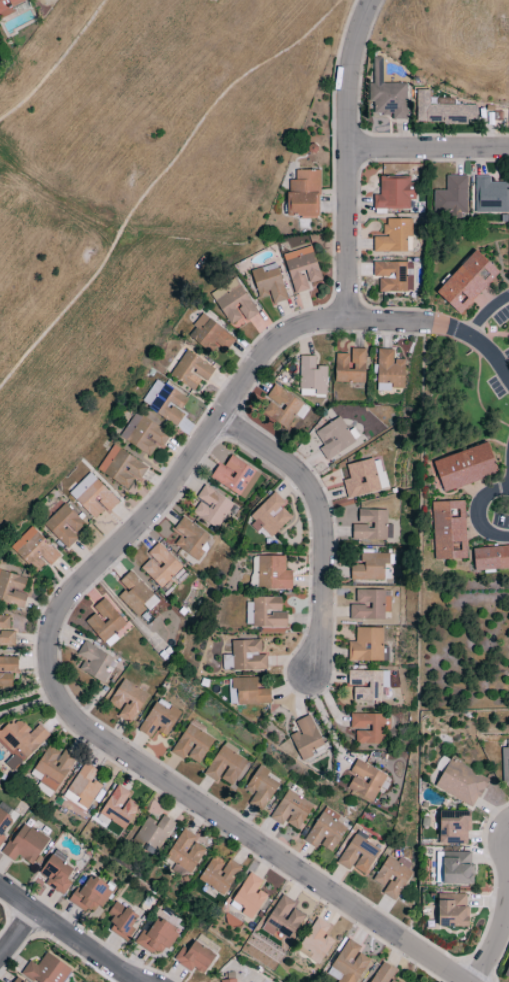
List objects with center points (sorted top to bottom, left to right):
building: (8, 7)
road: (440, 52)
building: (386, 93)
building: (442, 109)
road: (427, 147)
road: (345, 160)
road: (116, 172)
building: (393, 194)
building: (303, 195)
building: (490, 196)
building: (451, 198)
building: (393, 236)
building: (301, 269)
building: (393, 276)
building: (466, 282)
building: (268, 283)
building: (233, 304)
road: (488, 315)
building: (210, 335)
road: (494, 355)
building: (350, 366)
building: (191, 370)
building: (389, 371)
building: (311, 377)
building: (164, 402)
building: (280, 407)
building: (143, 435)
building: (334, 437)
building: (121, 467)
building: (464, 467)
building: (234, 477)
building: (364, 478)
building: (92, 496)
building: (211, 507)
road: (476, 513)
building: (269, 516)
road: (320, 525)
building: (64, 526)
building: (448, 530)
building: (190, 538)
building: (34, 550)
building: (490, 558)
building: (160, 566)
building: (371, 568)
building: (272, 573)
building: (4, 589)
building: (135, 595)
building: (367, 606)
building: (265, 613)
building: (105, 623)
road: (55, 627)
building: (6, 633)
building: (366, 645)
building: (247, 656)
building: (94, 662)
building: (7, 670)
building: (367, 684)
building: (247, 692)
road: (28, 694)
building: (127, 701)
road: (29, 705)
road: (322, 714)
building: (159, 720)
building: (367, 728)
building: (305, 738)
building: (20, 741)
building: (192, 743)
building: (226, 766)
building: (52, 767)
building: (505, 767)
building: (365, 781)
building: (461, 783)
building: (82, 788)
building: (260, 788)
building: (119, 808)
building: (291, 810)
building: (4, 823)
building: (453, 828)
building: (325, 831)
building: (154, 833)
building: (185, 852)
building: (358, 854)
building: (453, 868)
building: (219, 874)
building: (56, 875)
building: (392, 877)
building: (90, 896)
building: (248, 897)
road: (504, 907)
building: (452, 910)
building: (283, 919)
building: (121, 920)
road: (17, 931)
road: (68, 935)
building: (156, 938)
building: (316, 942)
building: (194, 958)
building: (348, 964)
building: (46, 970)
building: (383, 974)
building: (17, 980)
building: (229, 981)

